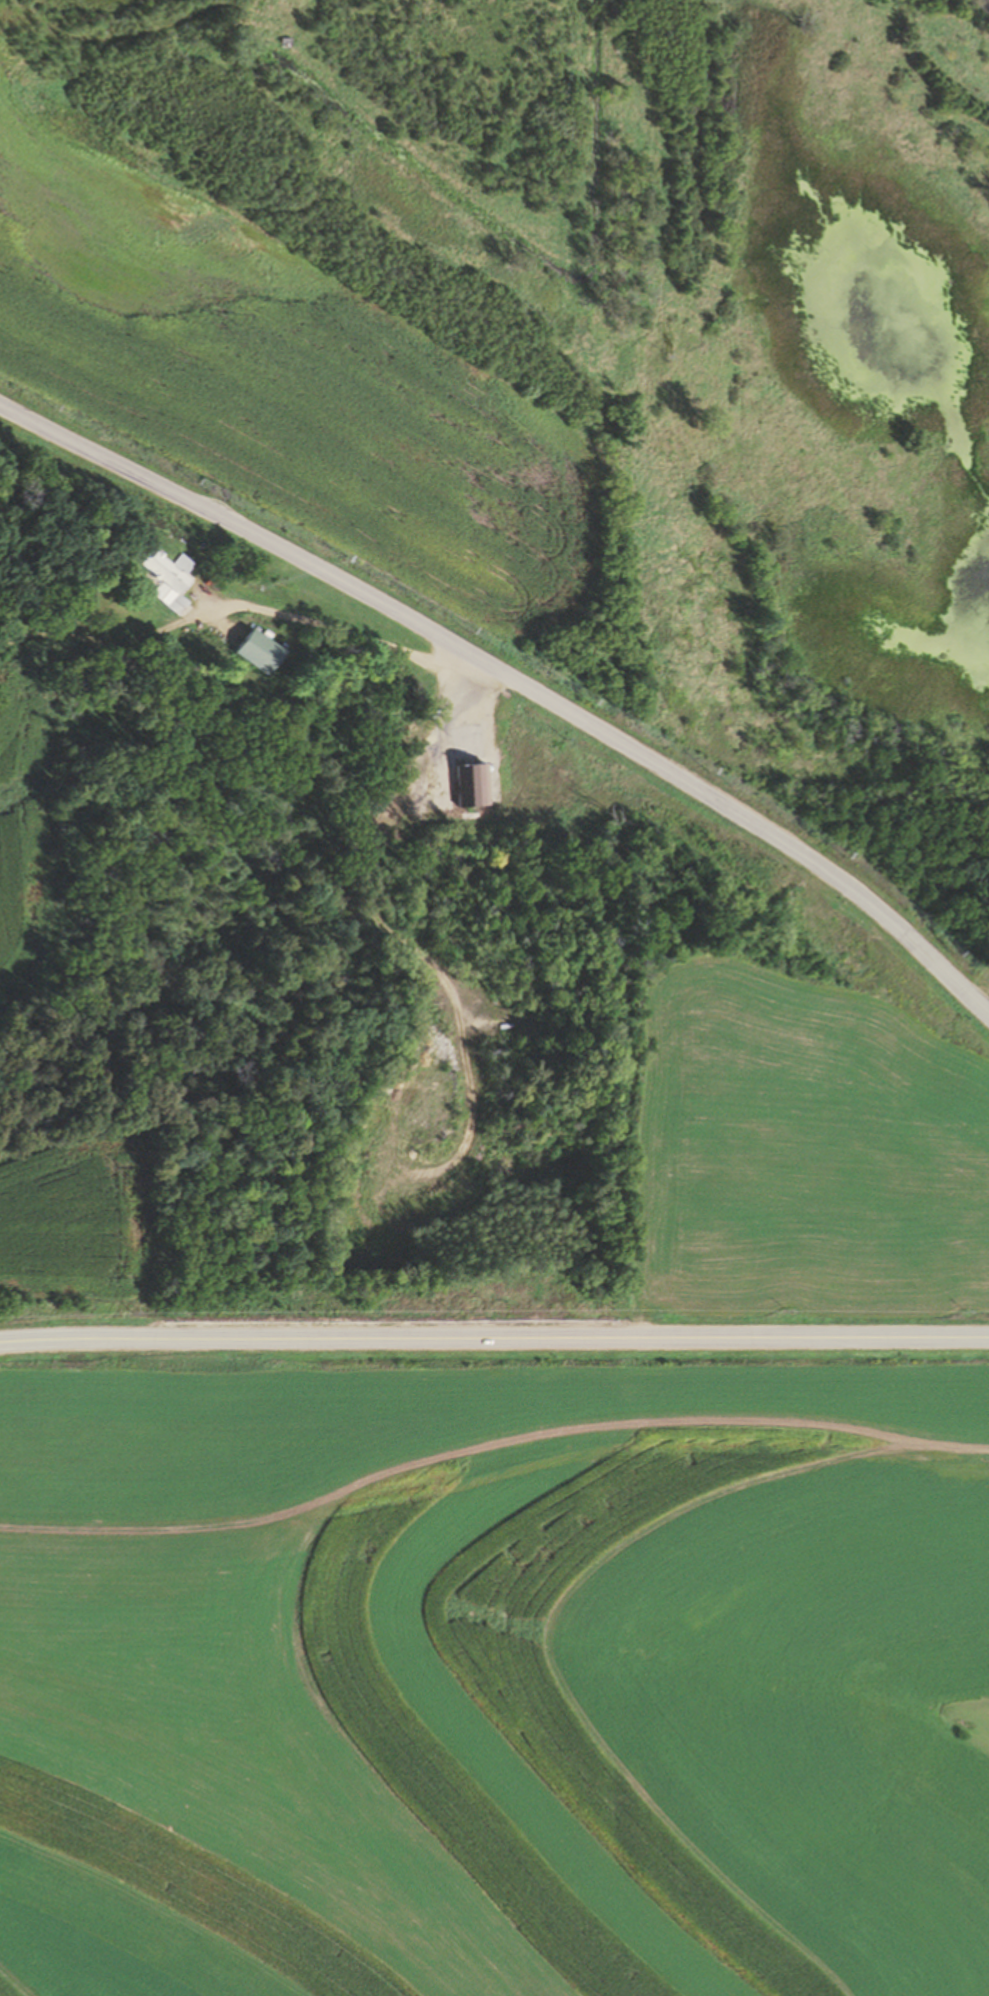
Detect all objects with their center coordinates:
building: (167, 573)
road: (232, 608)
building: (262, 653)
road: (515, 678)
building: (498, 774)
road: (393, 933)
road: (988, 1014)
road: (494, 1339)
road: (493, 1466)
road: (554, 1680)
road: (20, 1976)

